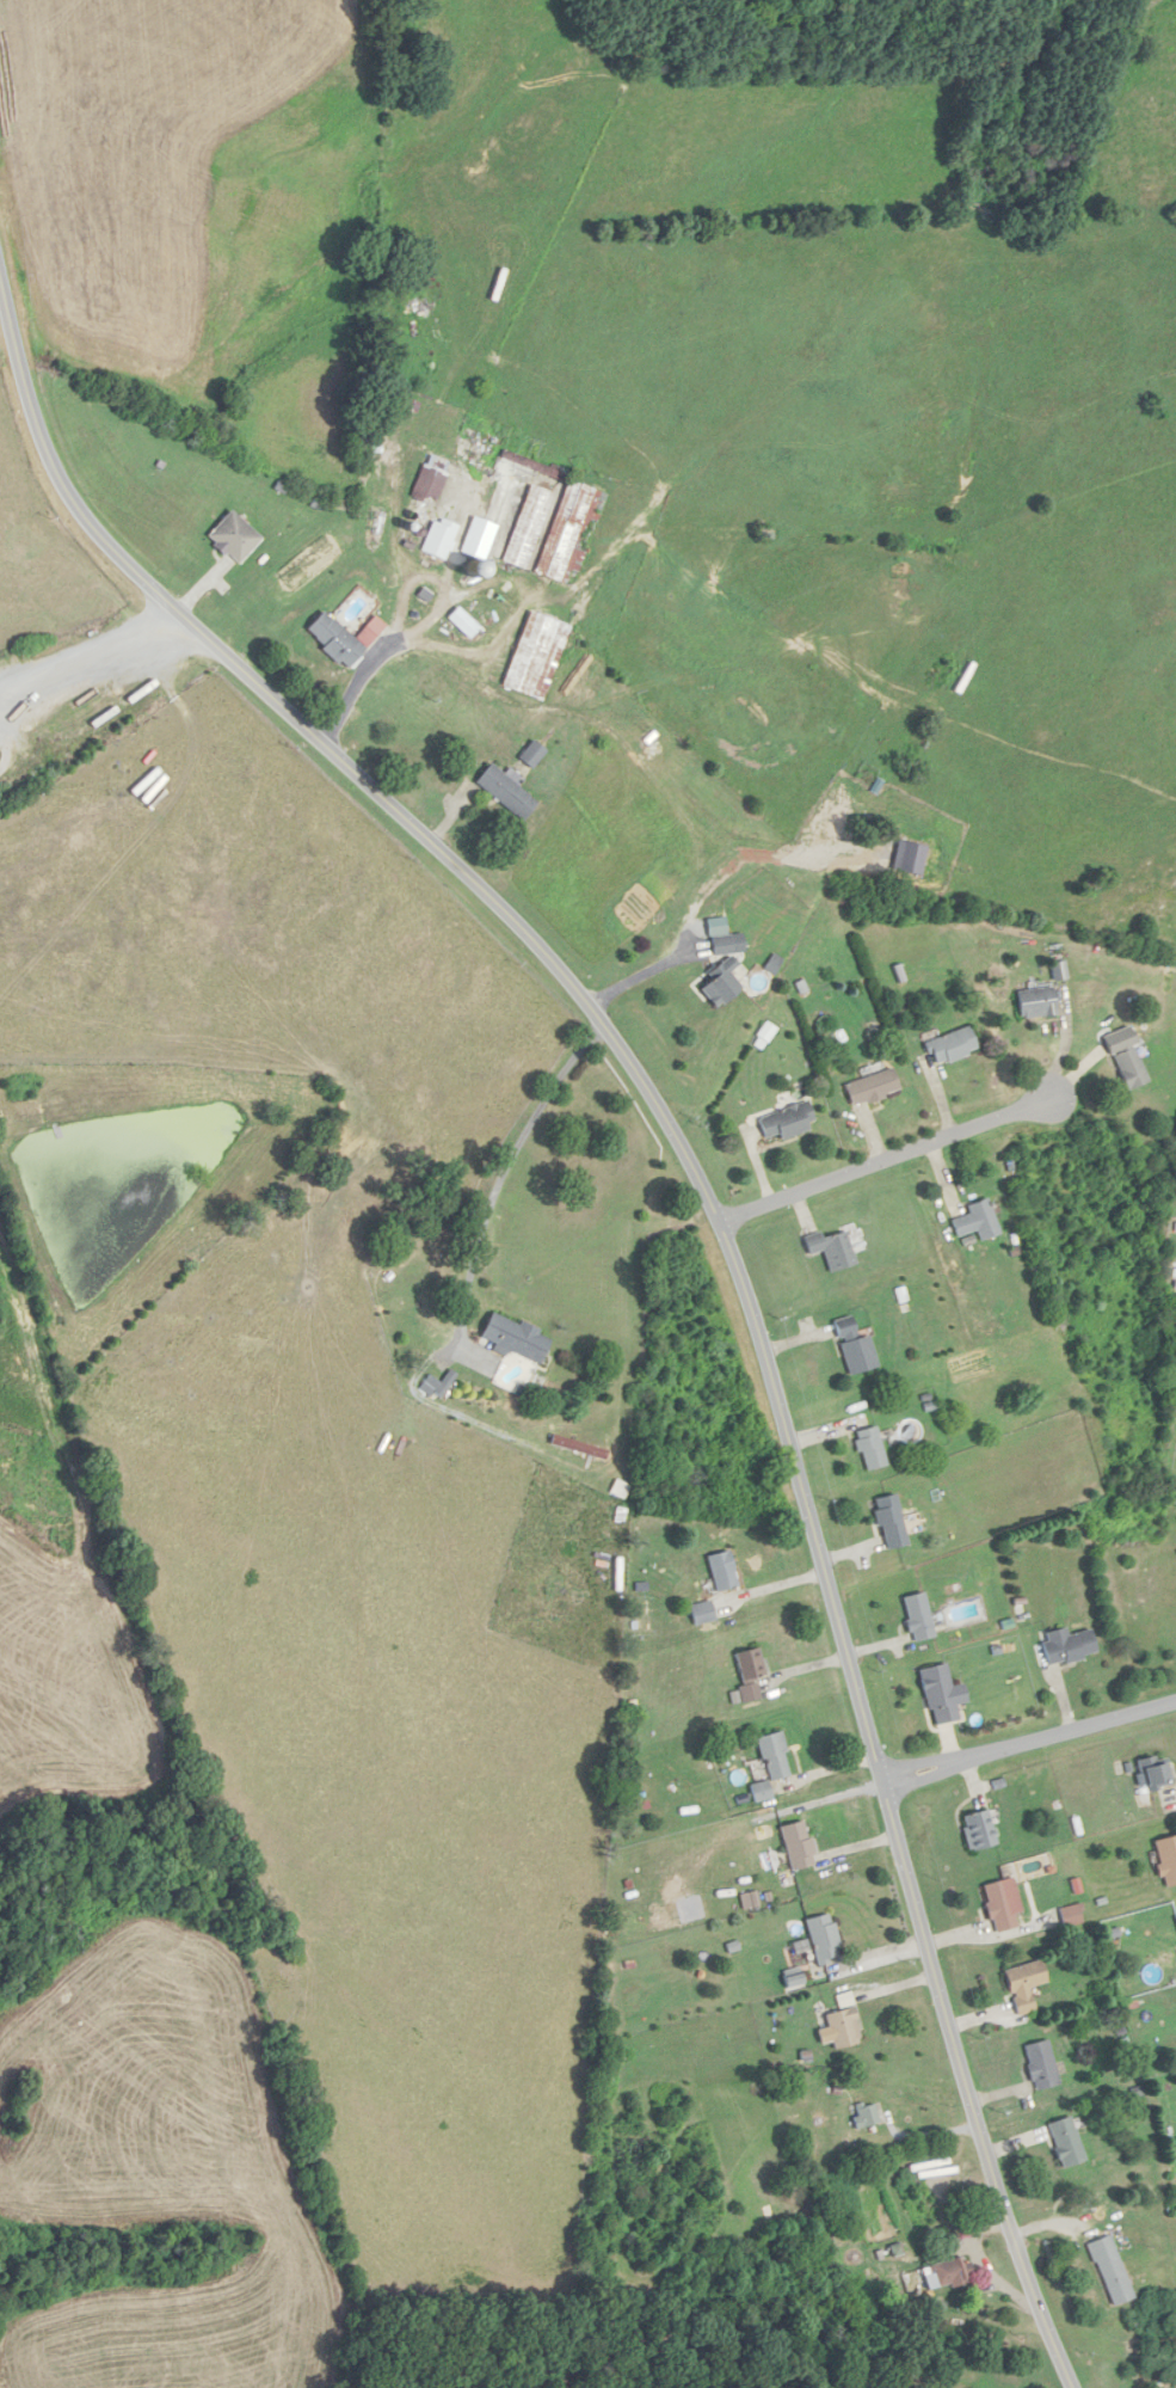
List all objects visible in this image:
building: (431, 480)
building: (528, 527)
building: (569, 533)
building: (239, 538)
building: (338, 640)
road: (384, 647)
road: (88, 650)
building: (535, 656)
building: (505, 792)
building: (718, 937)
road: (635, 978)
building: (719, 983)
building: (1034, 1003)
building: (950, 1046)
building: (1128, 1069)
building: (870, 1088)
building: (786, 1122)
road: (904, 1155)
road: (505, 1168)
road: (716, 1218)
building: (975, 1222)
building: (830, 1250)
building: (515, 1338)
building: (854, 1348)
building: (438, 1385)
building: (869, 1449)
building: (889, 1523)
building: (721, 1572)
building: (701, 1613)
building: (918, 1617)
building: (1066, 1646)
building: (749, 1672)
building: (941, 1695)
road: (1030, 1742)
building: (774, 1755)
building: (1156, 1774)
building: (758, 1791)
building: (978, 1829)
building: (796, 1843)
building: (1166, 1858)
building: (998, 1905)
building: (1070, 1915)
building: (823, 1938)
building: (1023, 1985)
building: (842, 2027)
building: (1040, 2063)
building: (864, 2116)
building: (1065, 2141)
building: (1110, 2270)
building: (946, 2272)

